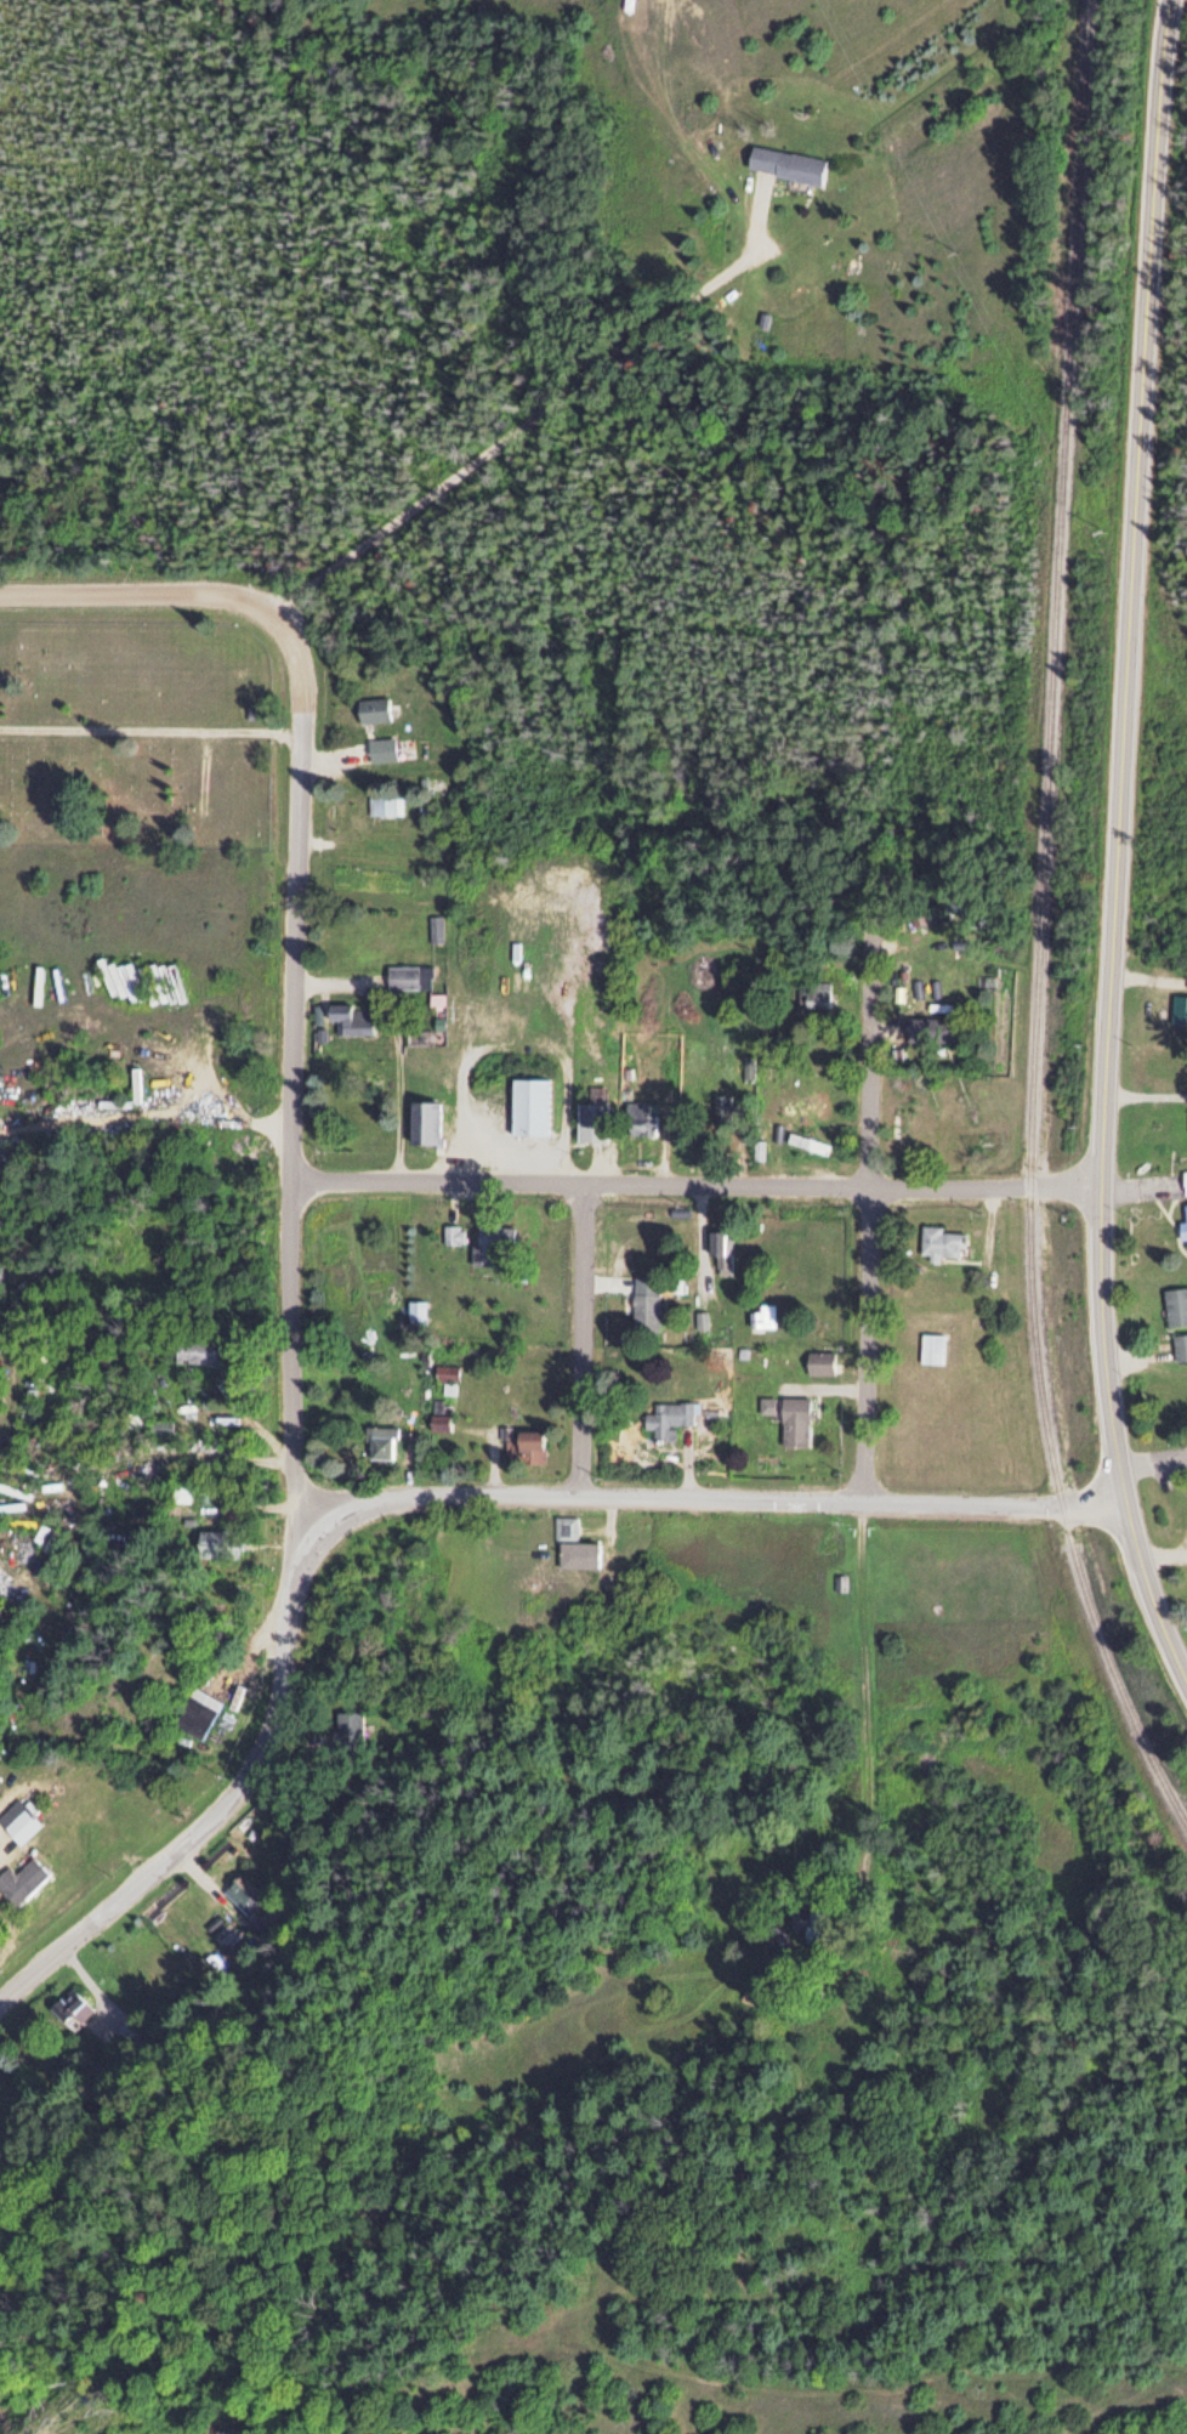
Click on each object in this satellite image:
building: (785, 163)
road: (352, 624)
building: (373, 708)
park: (136, 732)
road: (150, 734)
building: (381, 748)
building: (385, 802)
road: (1120, 846)
railway: (1043, 921)
building: (435, 926)
road: (293, 927)
building: (408, 975)
building: (1179, 1008)
building: (351, 1017)
building: (498, 1017)
building: (932, 1028)
building: (419, 1034)
building: (530, 1105)
building: (593, 1114)
building: (640, 1118)
building: (425, 1120)
building: (894, 1122)
building: (807, 1141)
building: (1183, 1179)
road: (695, 1182)
road: (864, 1192)
building: (1183, 1224)
building: (453, 1232)
building: (941, 1241)
building: (493, 1244)
building: (720, 1247)
building: (646, 1301)
building: (1175, 1304)
building: (416, 1310)
building: (763, 1314)
road: (577, 1340)
building: (1180, 1344)
building: (932, 1345)
building: (197, 1349)
building: (819, 1361)
building: (445, 1372)
building: (668, 1417)
building: (441, 1419)
building: (794, 1419)
building: (160, 1425)
building: (382, 1441)
building: (528, 1445)
road: (410, 1491)
building: (820, 1538)
building: (221, 1543)
building: (575, 1547)
building: (194, 1710)
building: (347, 1730)
building: (19, 1819)
building: (21, 1879)
building: (243, 1891)
building: (811, 1923)
building: (72, 2009)

